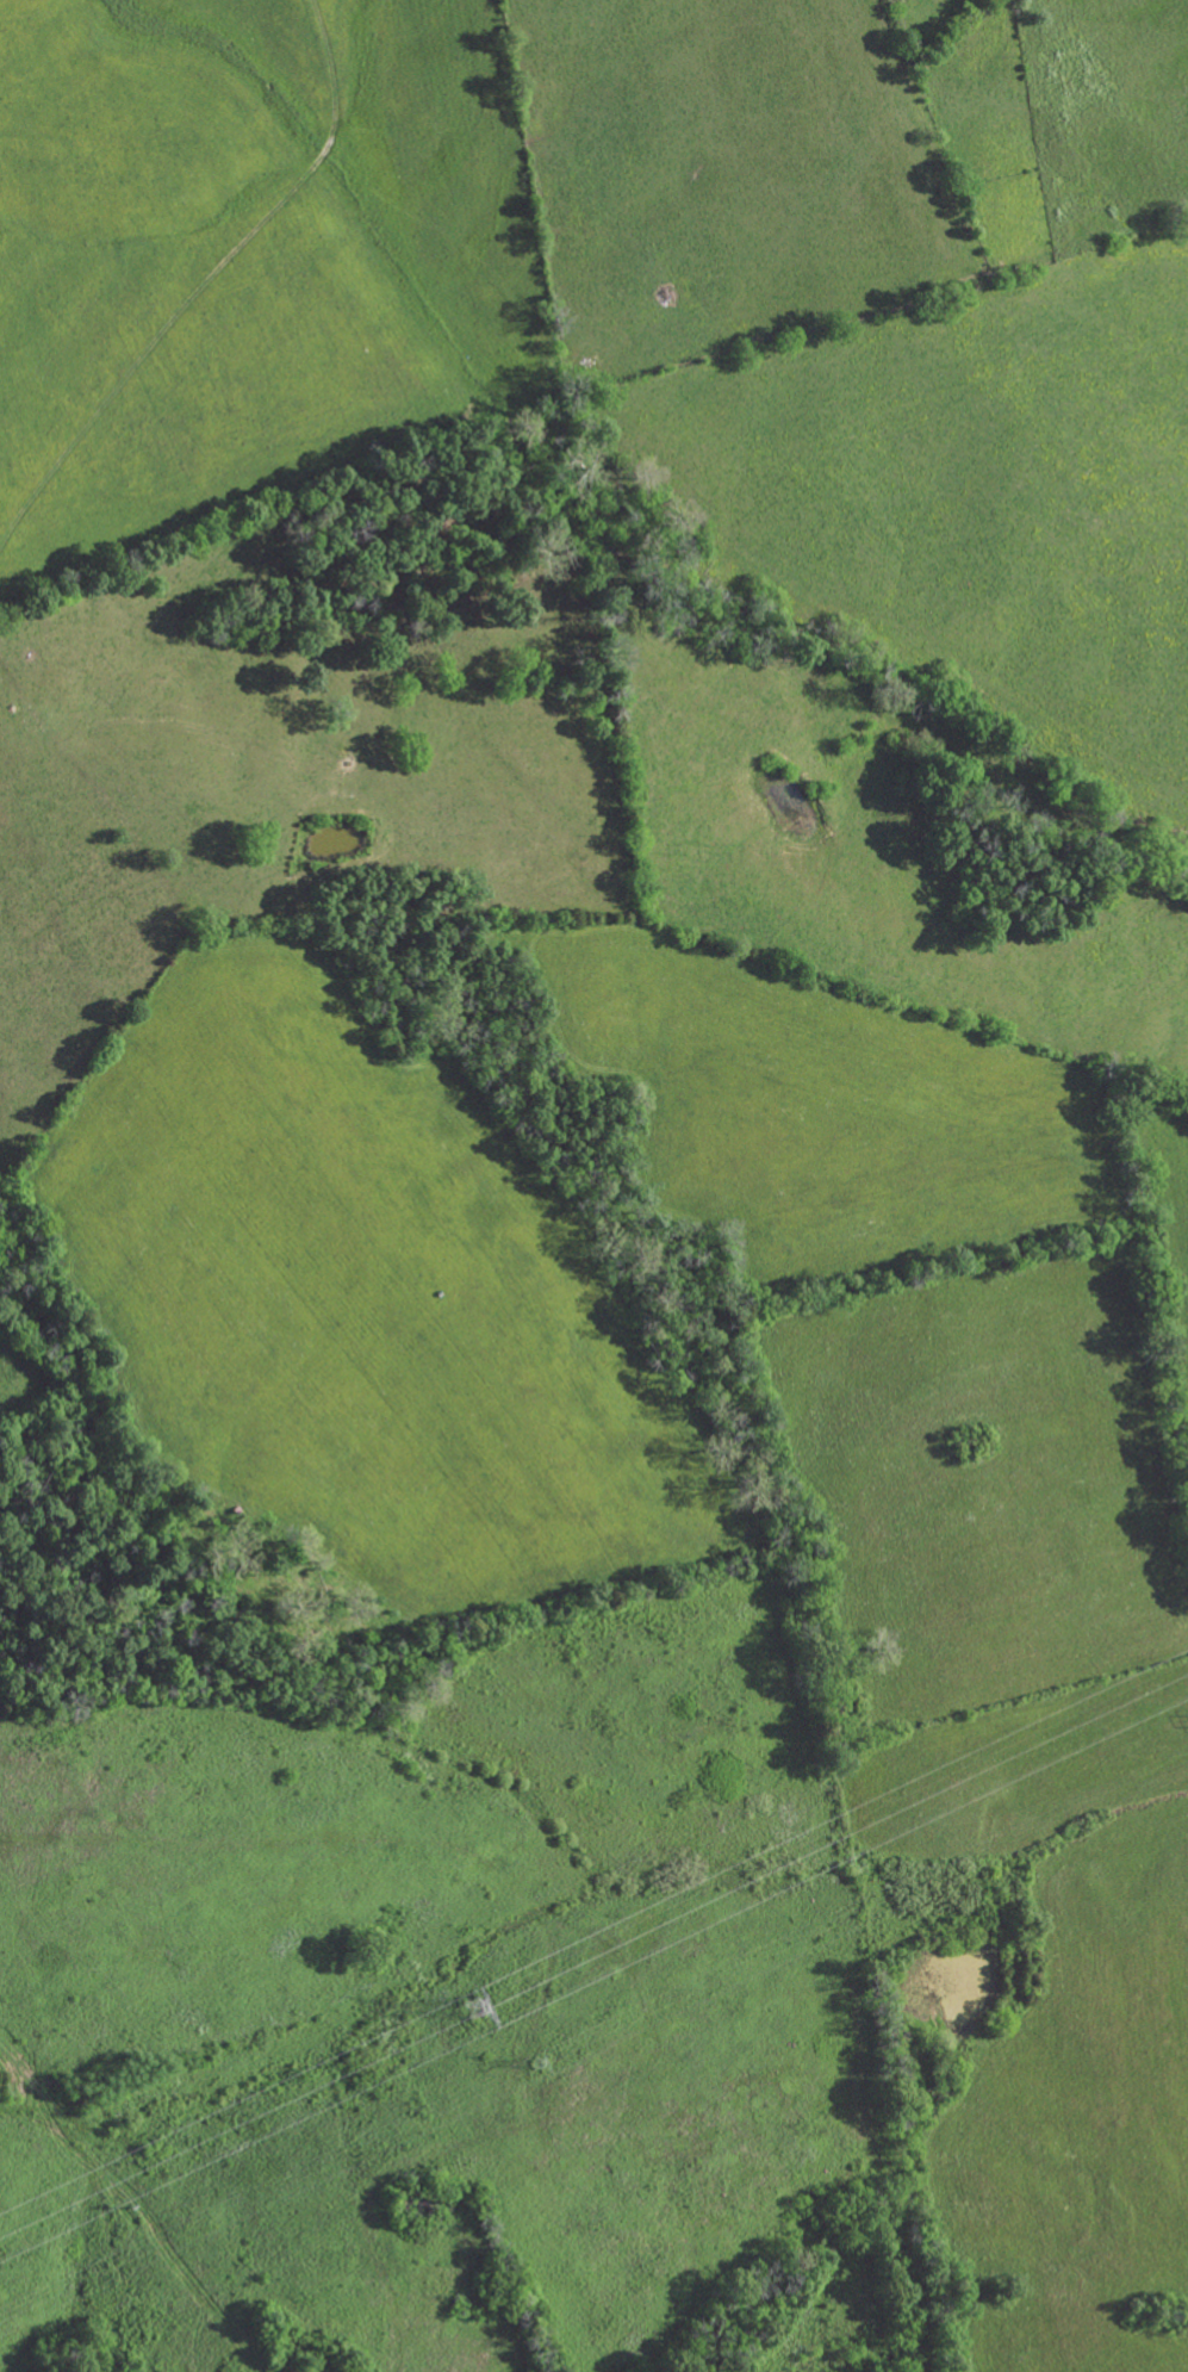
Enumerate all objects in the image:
power tower: (471, 2007)

